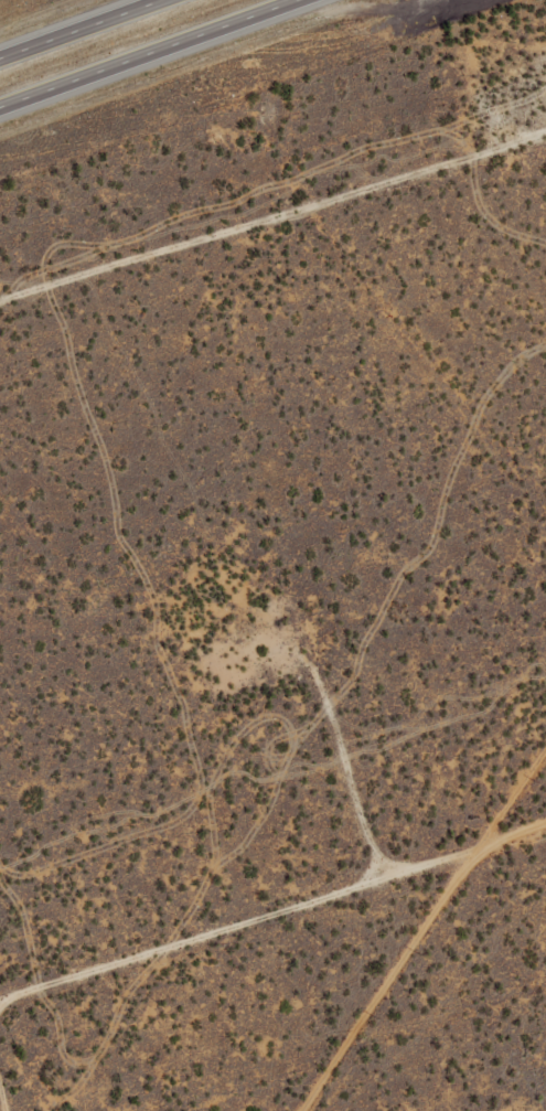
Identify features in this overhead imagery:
road: (82, 29)
road: (148, 53)
road: (272, 225)
road: (272, 950)

